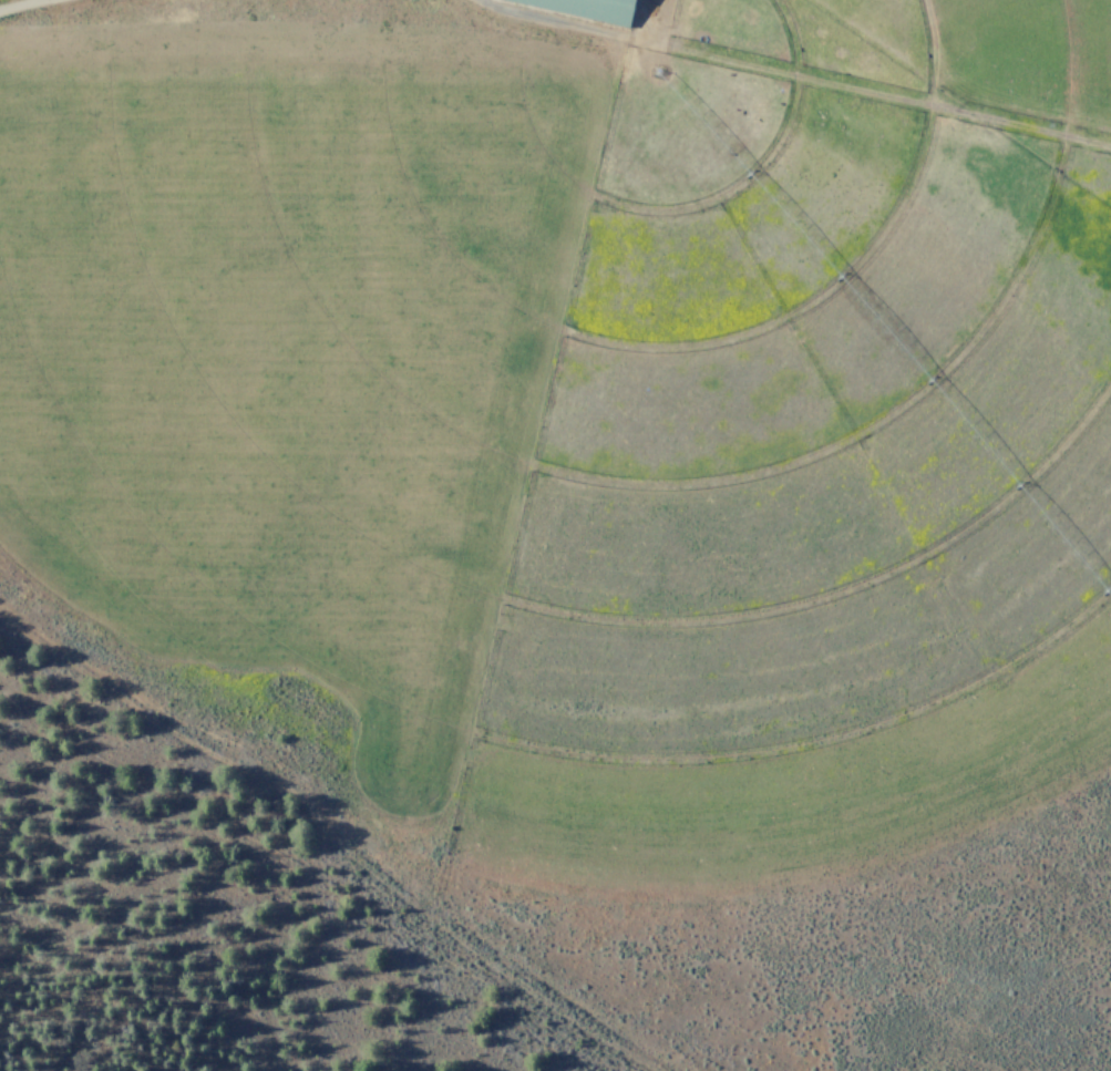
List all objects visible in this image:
road: (18, 4)
building: (609, 10)

